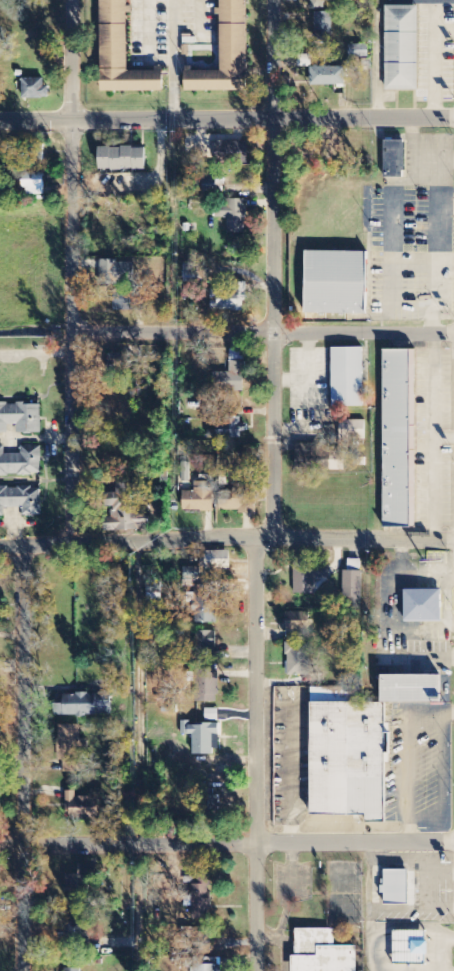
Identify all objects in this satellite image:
building: (317, 5)
building: (323, 26)
building: (398, 47)
building: (360, 51)
building: (122, 54)
building: (227, 54)
building: (328, 77)
building: (34, 89)
road: (227, 117)
building: (232, 153)
building: (394, 156)
building: (123, 160)
building: (34, 185)
building: (211, 185)
building: (235, 216)
road: (71, 270)
road: (274, 270)
building: (117, 272)
building: (193, 273)
building: (335, 281)
building: (229, 299)
building: (129, 301)
road: (263, 333)
building: (119, 361)
building: (346, 375)
building: (21, 418)
building: (228, 429)
building: (352, 430)
building: (397, 436)
building: (307, 452)
building: (337, 461)
building: (21, 462)
building: (200, 497)
building: (21, 501)
building: (237, 502)
building: (125, 507)
road: (225, 541)
building: (216, 561)
building: (309, 574)
building: (353, 586)
building: (206, 605)
building: (423, 606)
building: (297, 622)
building: (204, 643)
building: (299, 659)
building: (207, 685)
building: (85, 706)
building: (203, 742)
building: (71, 749)
building: (360, 749)
road: (254, 756)
road: (23, 761)
building: (81, 807)
road: (227, 846)
building: (79, 882)
building: (396, 887)
building: (200, 894)
building: (411, 948)
building: (321, 951)
building: (207, 964)

